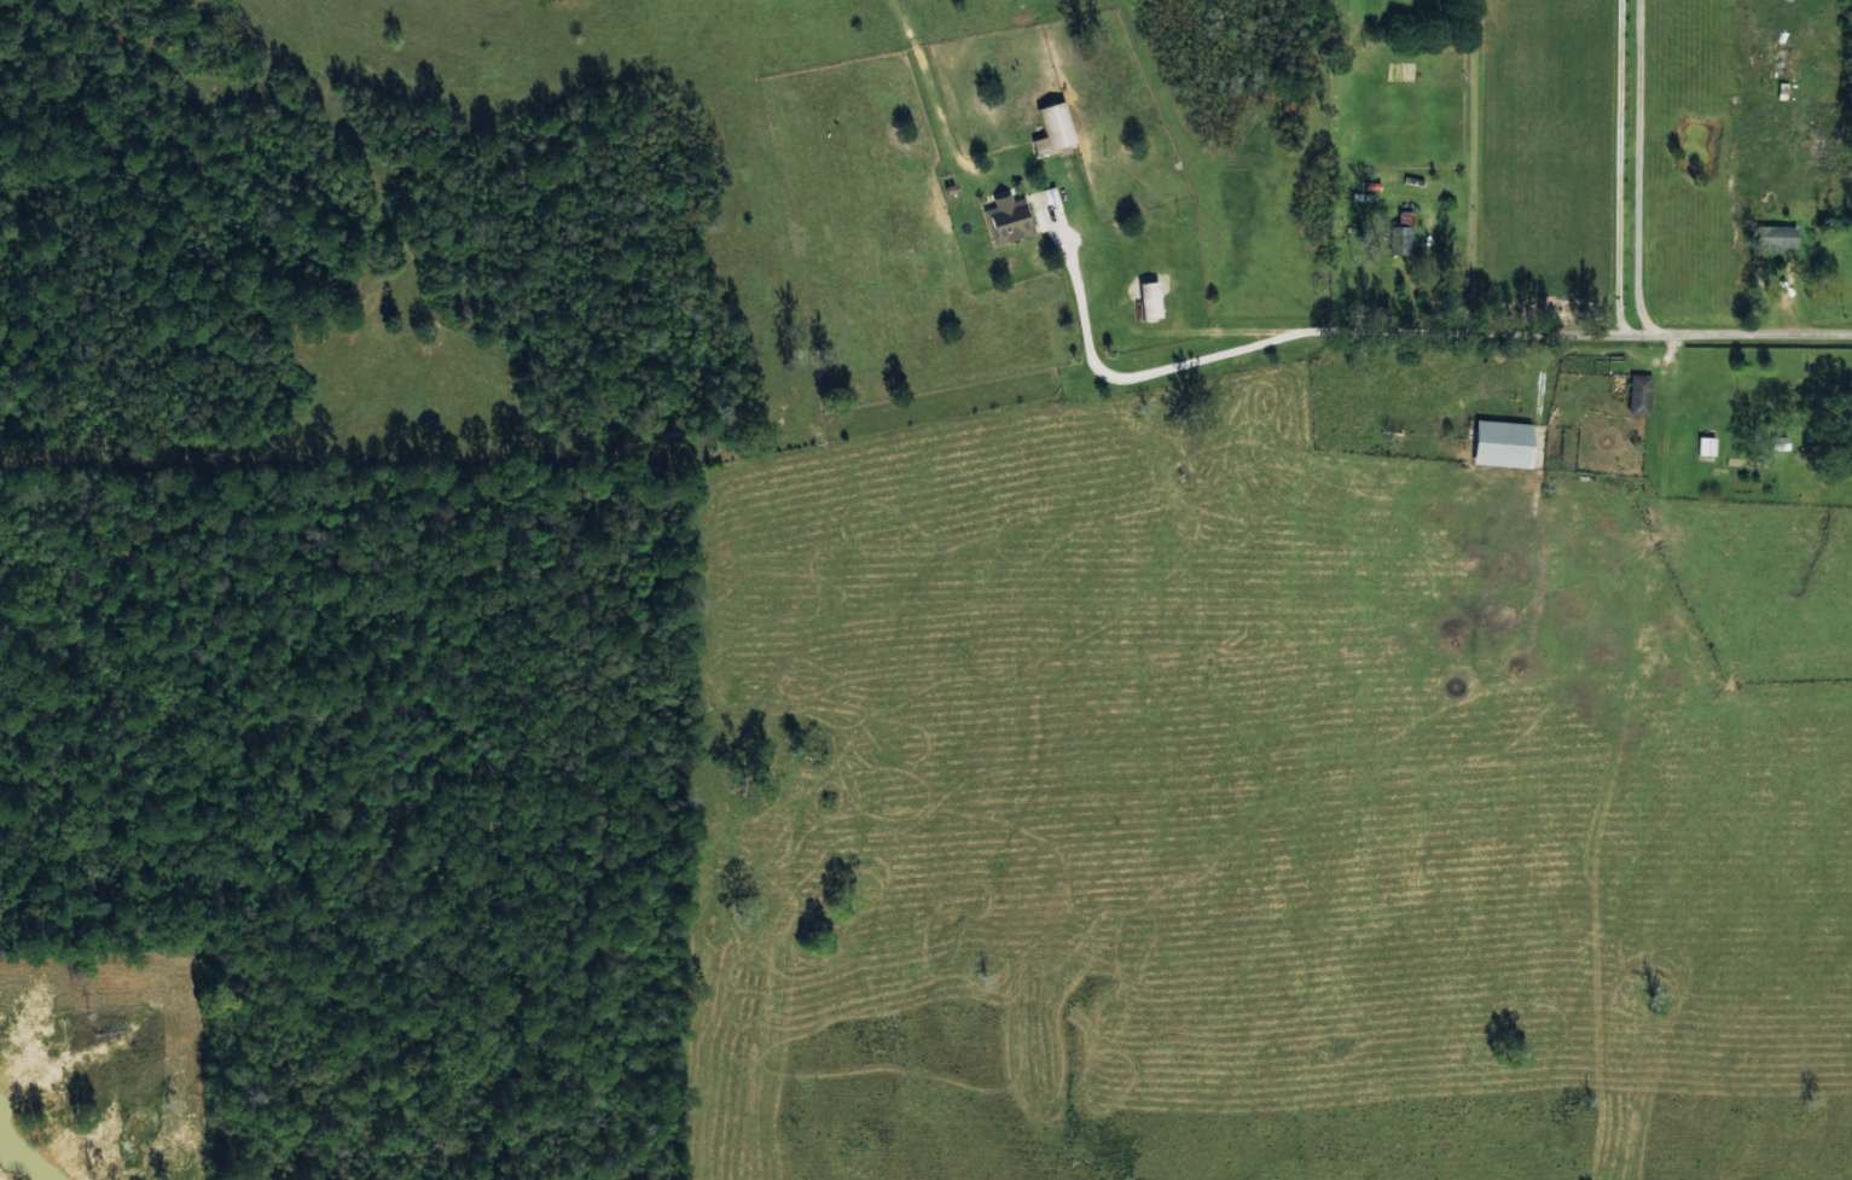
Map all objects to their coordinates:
building: (1053, 126)
road: (1383, 172)
road: (1598, 174)
building: (1009, 219)
building: (1401, 234)
building: (1782, 236)
building: (1150, 298)
road: (1569, 344)
building: (1639, 394)
building: (1780, 442)
building: (1503, 443)
building: (1706, 444)
building: (1851, 460)

